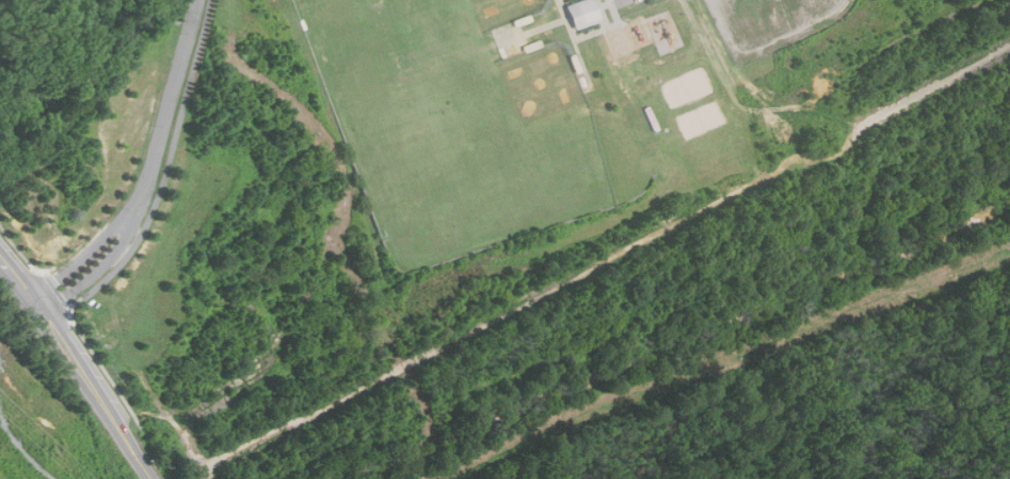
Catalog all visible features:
parking lot: (625, 2)
road: (606, 5)
building: (583, 13)
road: (603, 13)
road: (608, 26)
road: (547, 27)
road: (576, 43)
road: (771, 43)
park: (685, 88)
road: (172, 116)
park: (701, 120)
road: (172, 161)
park: (479, 200)
road: (20, 247)
road: (79, 258)
road: (91, 274)
road: (59, 290)
road: (100, 362)
road: (79, 365)

